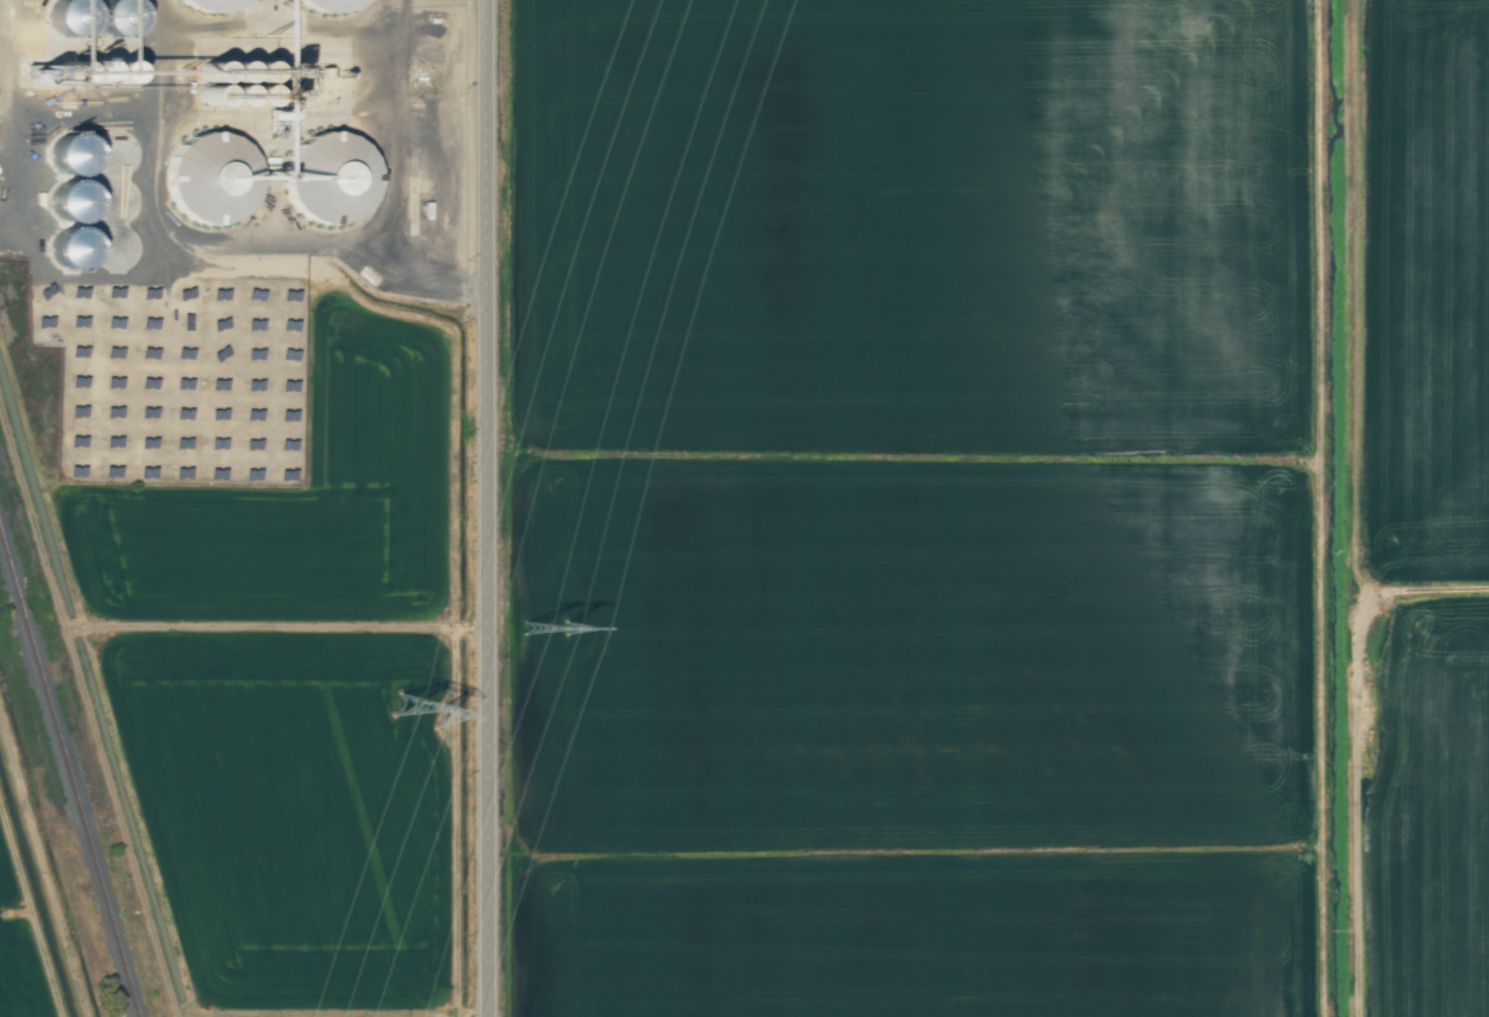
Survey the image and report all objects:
building: (331, 177)
road: (493, 508)
railway: (7, 568)
railway: (17, 604)
power tower: (556, 644)
power tower: (430, 711)
railway: (78, 814)

